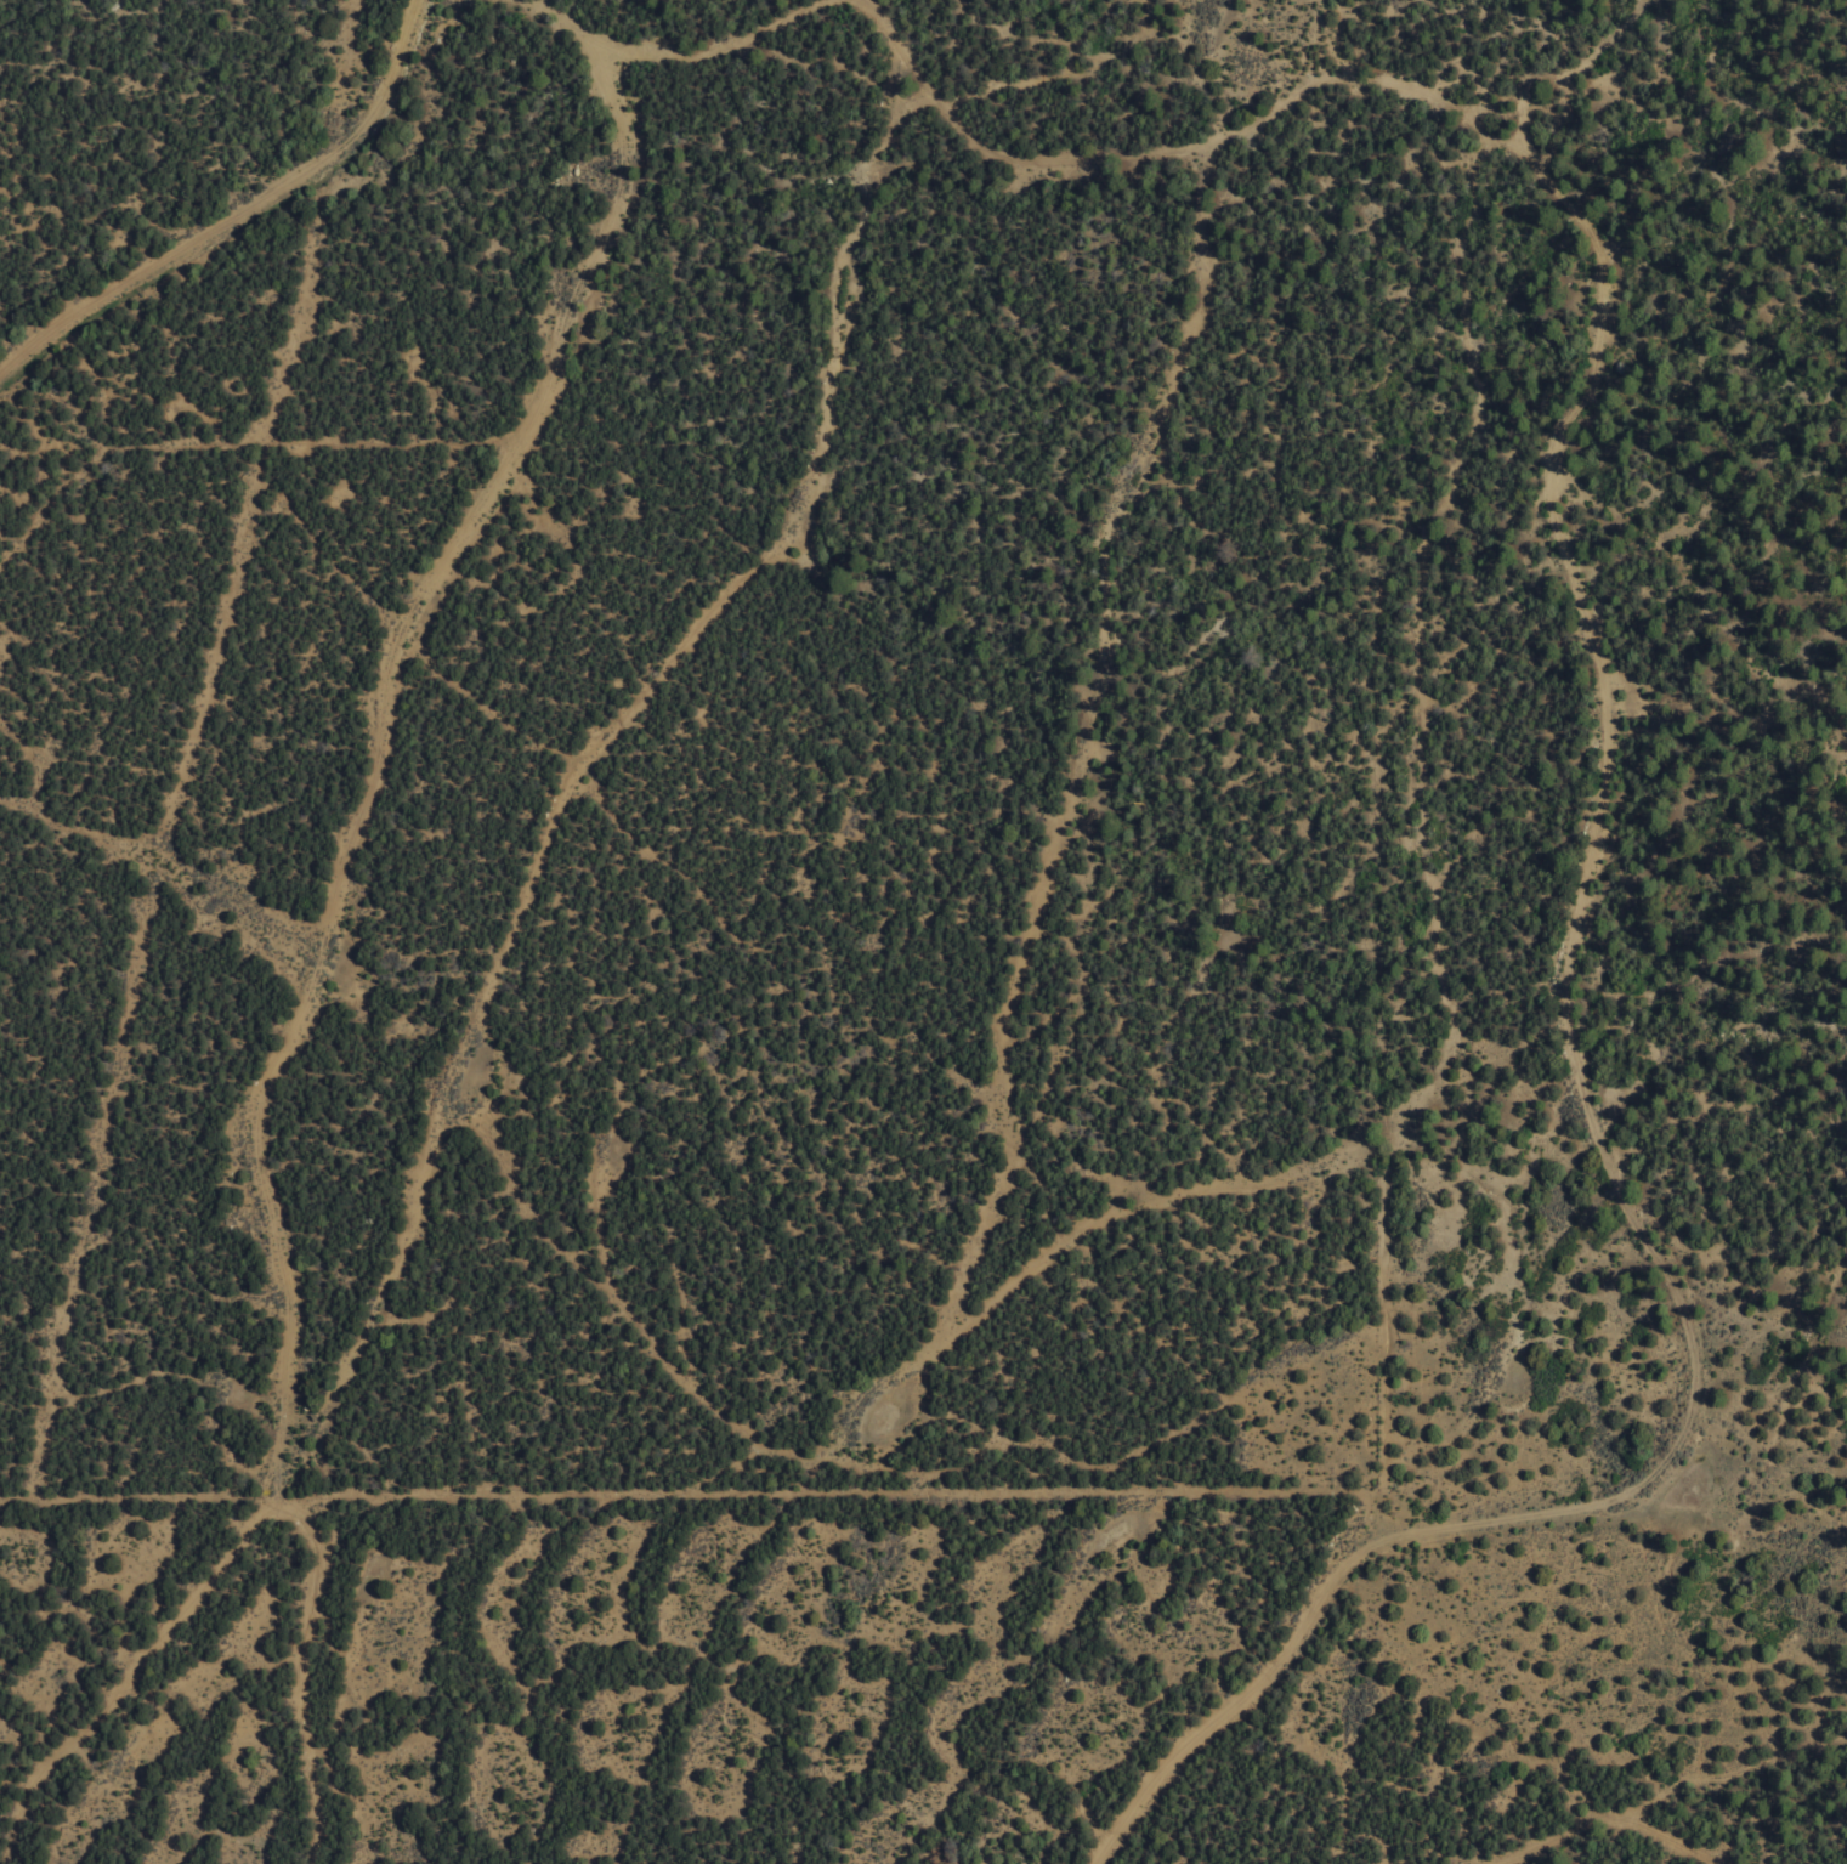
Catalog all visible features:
road: (213, 151)
road: (1450, 976)
road: (272, 1496)
road: (1644, 1842)

